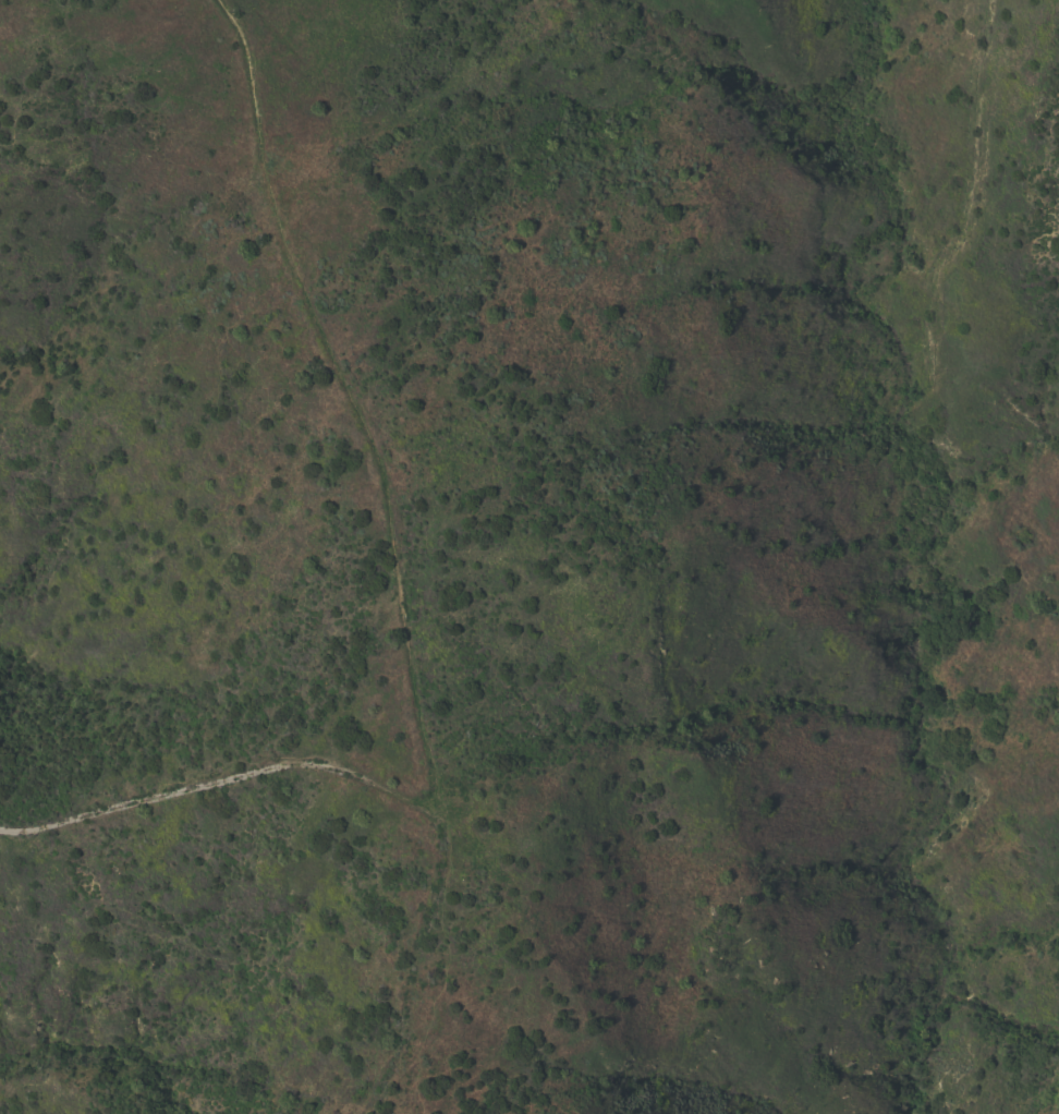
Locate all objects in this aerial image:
road: (399, 612)

